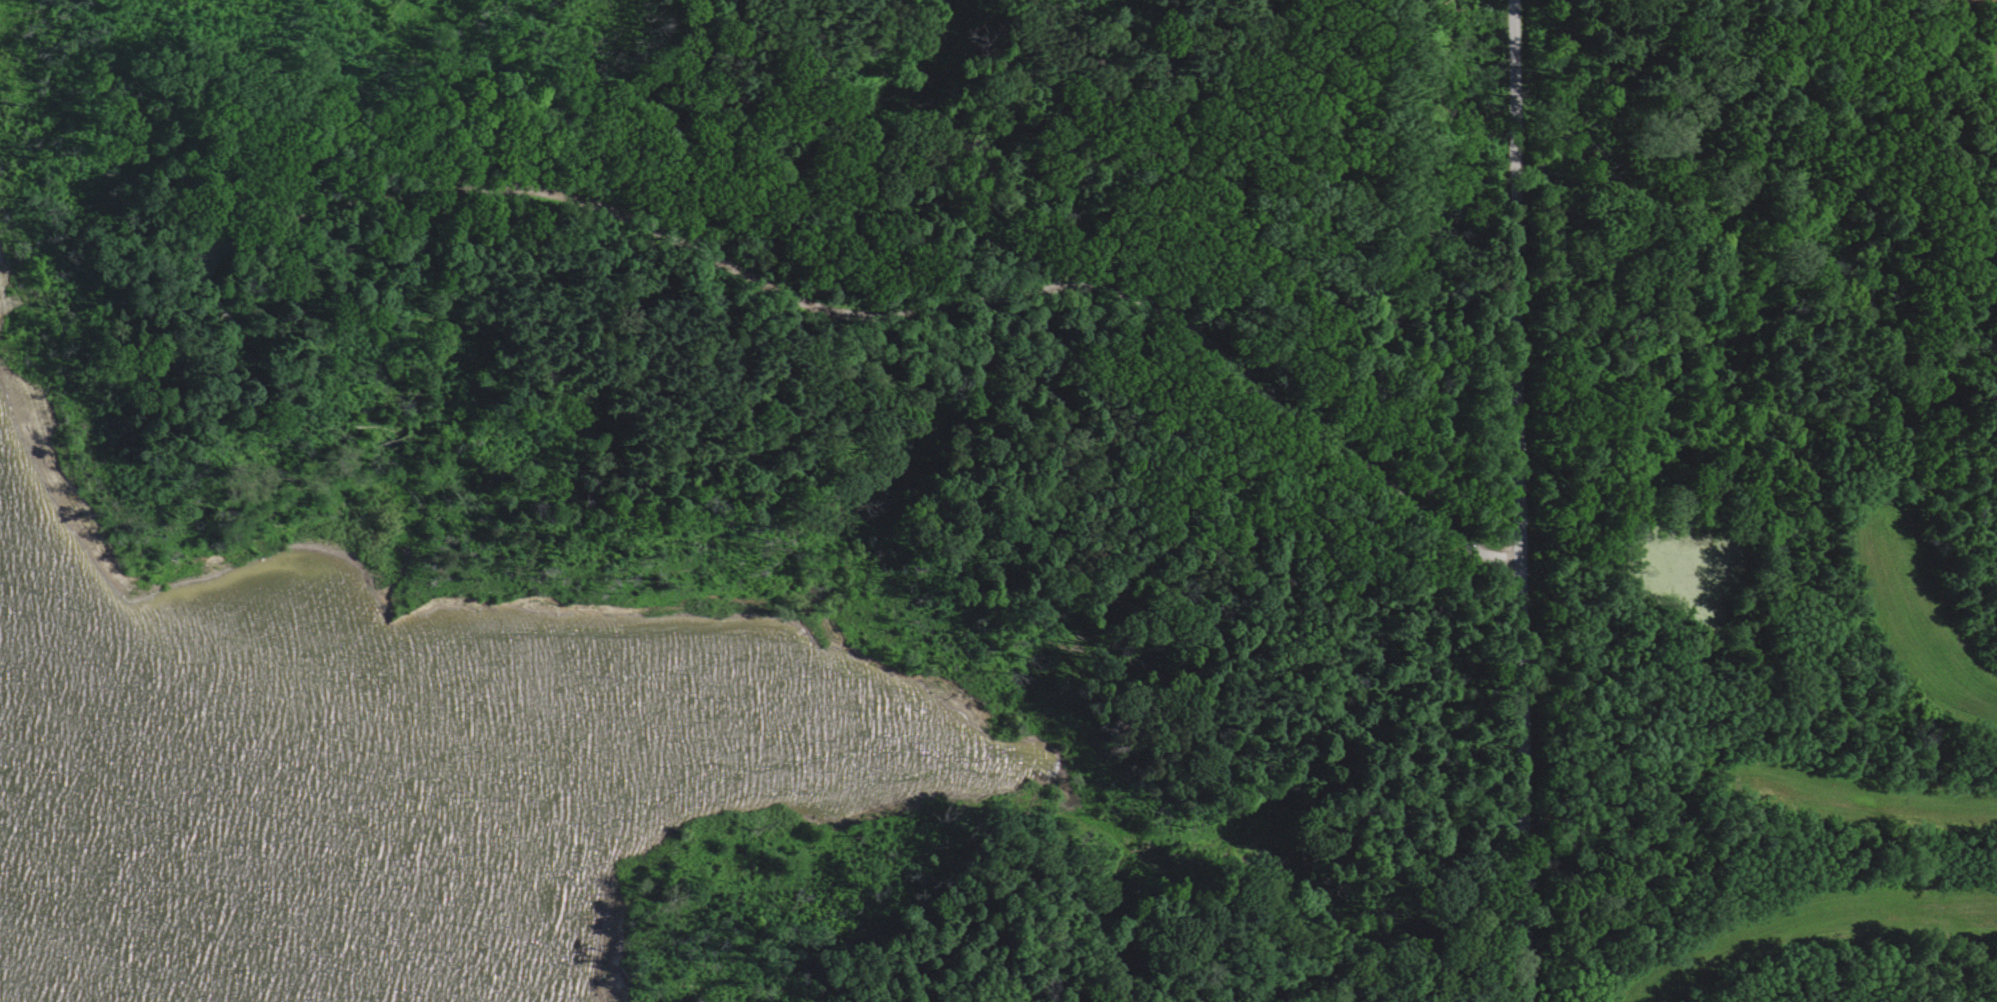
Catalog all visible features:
road: (901, 310)
road: (1512, 501)

